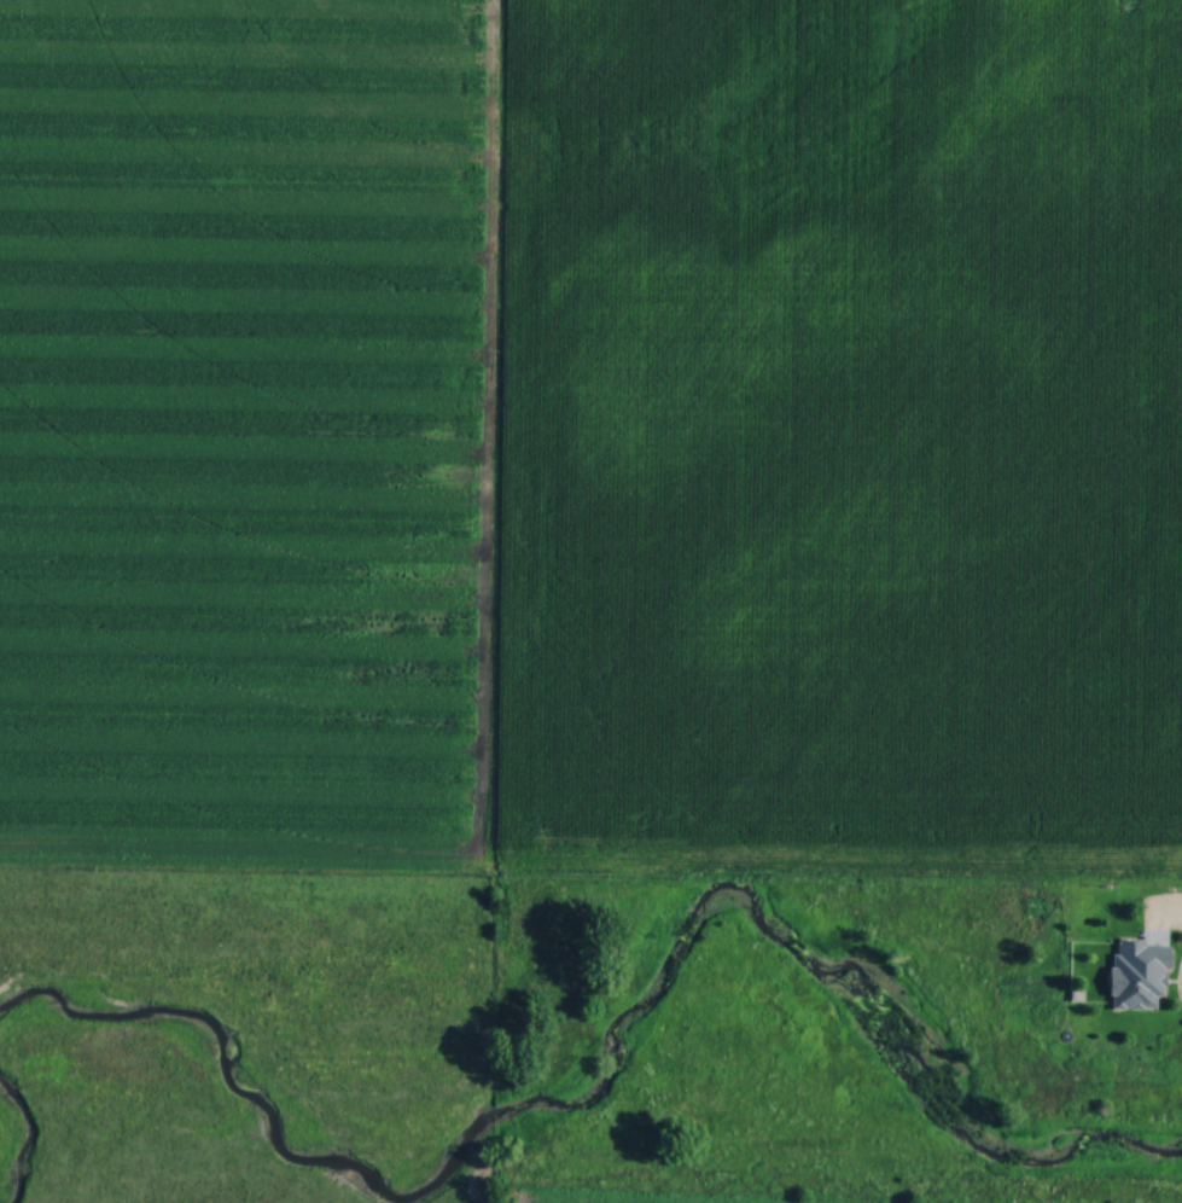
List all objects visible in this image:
building: (1142, 974)

